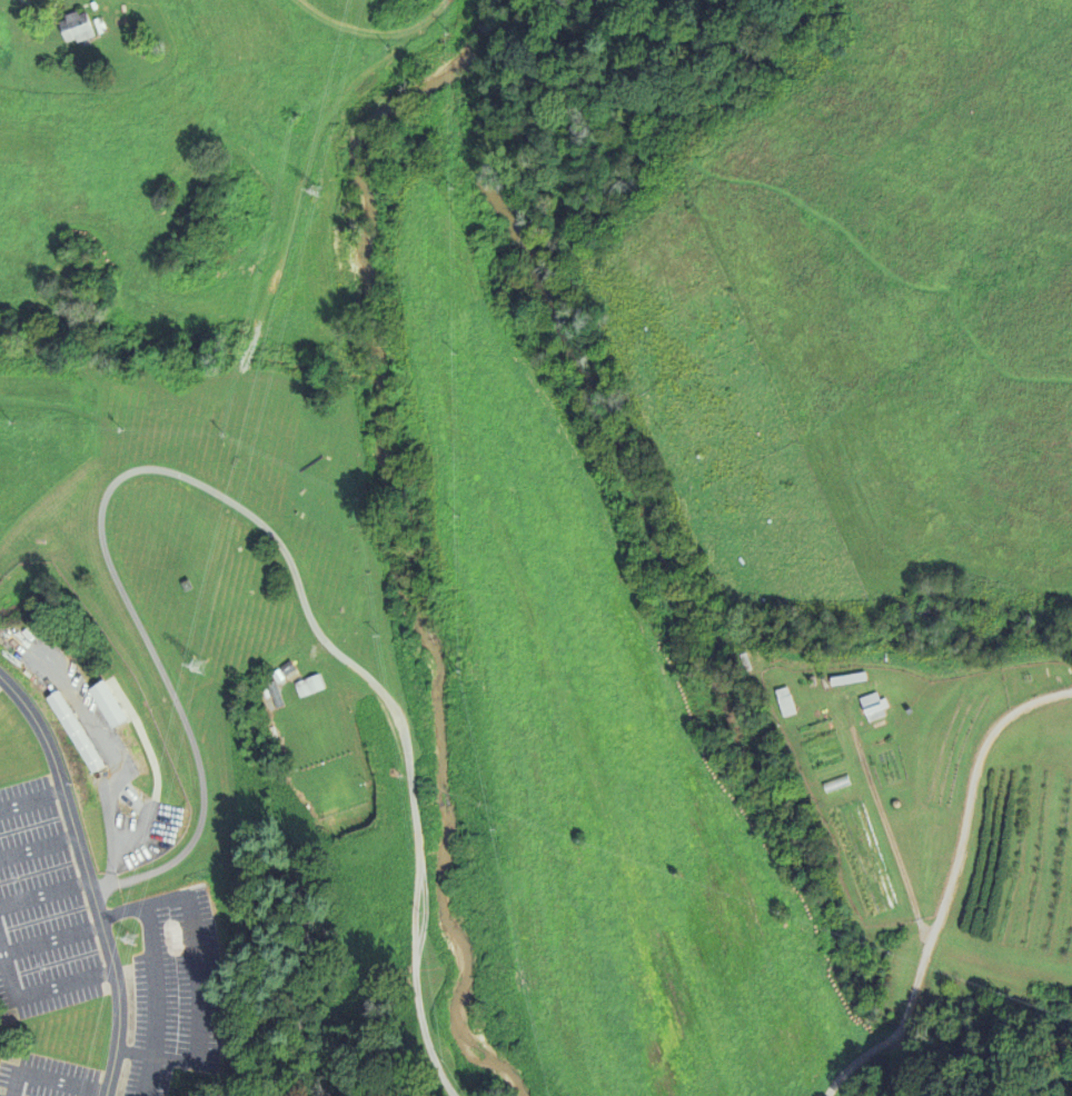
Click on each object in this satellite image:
building: (101, 24)
building: (79, 27)
building: (139, 48)
road: (846, 142)
power tower: (309, 196)
road: (111, 421)
river: (407, 521)
road: (115, 575)
power tower: (189, 666)
building: (289, 667)
building: (279, 675)
building: (847, 677)
building: (310, 684)
building: (265, 687)
building: (277, 693)
building: (267, 699)
building: (784, 700)
building: (112, 703)
building: (99, 705)
building: (872, 705)
building: (77, 729)
building: (72, 739)
road: (109, 755)
building: (836, 783)
road: (32, 800)
road: (885, 827)
parking lot: (141, 835)
road: (38, 847)
road: (421, 857)
crop: (863, 860)
road: (88, 877)
road: (951, 887)
road: (44, 894)
parking lot: (41, 908)
road: (52, 939)
power tower: (123, 939)
road: (199, 974)
parking lot: (173, 989)
road: (37, 990)
road: (156, 1000)
parking lot: (43, 1075)
road: (50, 1078)
road: (7, 1090)

